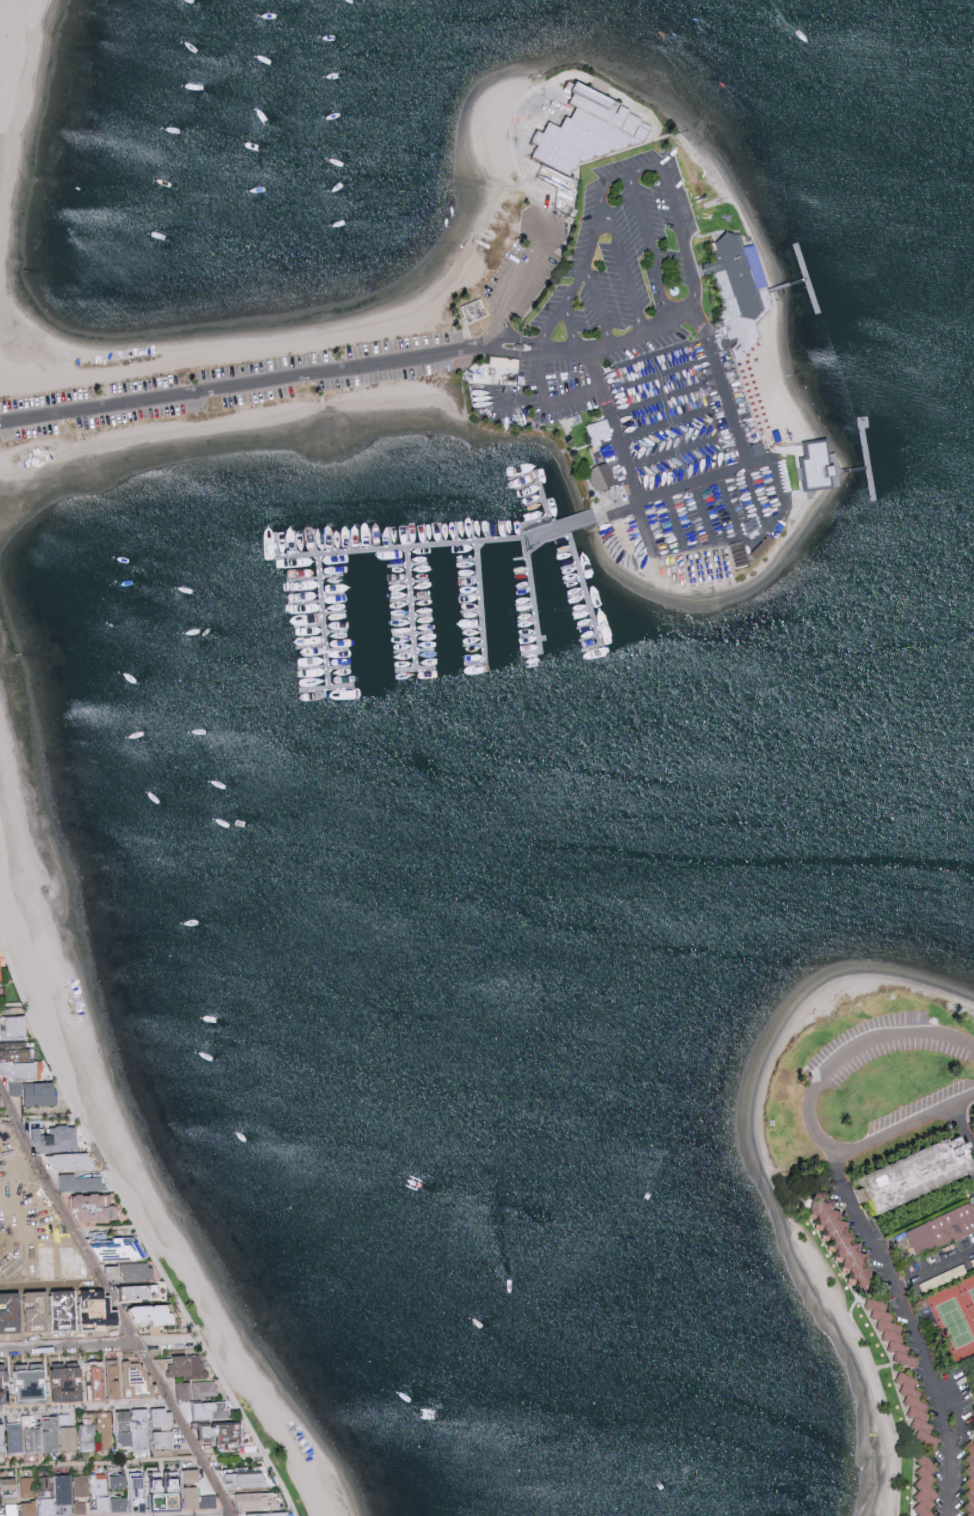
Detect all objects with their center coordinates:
building: (586, 132)
road: (677, 219)
road: (647, 246)
road: (587, 254)
pier: (801, 261)
road: (626, 267)
road: (527, 269)
building: (735, 273)
pier: (802, 279)
road: (564, 306)
road: (682, 315)
road: (552, 328)
road: (493, 330)
road: (517, 338)
road: (607, 346)
road: (511, 352)
building: (503, 363)
parking lot: (650, 380)
road: (240, 384)
parking lot: (229, 385)
road: (508, 400)
road: (560, 400)
building: (597, 431)
pier: (867, 457)
building: (815, 467)
road: (771, 472)
road: (713, 473)
building: (598, 477)
pier: (873, 485)
pier: (543, 498)
road: (729, 502)
road: (617, 506)
road: (703, 511)
road: (675, 518)
road: (643, 525)
pier: (436, 544)
pier: (584, 585)
pier: (532, 595)
pier: (479, 600)
pier: (409, 607)
pier: (323, 619)
building: (0, 981)
road: (12, 1005)
building: (13, 1026)
building: (17, 1050)
building: (25, 1070)
building: (40, 1093)
road: (808, 1112)
road: (38, 1121)
building: (972, 1123)
road: (962, 1131)
building: (58, 1138)
building: (904, 1175)
road: (23, 1176)
building: (80, 1182)
building: (96, 1207)
road: (141, 1229)
road: (69, 1230)
building: (942, 1230)
building: (834, 1239)
building: (118, 1248)
building: (131, 1271)
road: (934, 1271)
road: (52, 1285)
building: (136, 1291)
road: (114, 1302)
building: (39, 1311)
building: (156, 1314)
park: (954, 1315)
road: (911, 1328)
building: (888, 1331)
road: (100, 1346)
building: (187, 1367)
building: (138, 1378)
building: (26, 1379)
building: (197, 1389)
road: (85, 1407)
building: (973, 1408)
building: (204, 1410)
building: (914, 1410)
building: (141, 1425)
building: (225, 1435)
building: (44, 1436)
building: (87, 1437)
building: (16, 1438)
building: (68, 1438)
building: (2, 1439)
building: (163, 1440)
road: (132, 1462)
building: (245, 1478)
building: (119, 1481)
building: (9, 1484)
building: (90, 1485)
building: (922, 1486)
building: (65, 1489)
building: (163, 1492)
building: (19, 1496)
building: (258, 1500)
building: (47, 1506)
building: (30, 1508)
building: (80, 1508)
building: (270, 1514)

